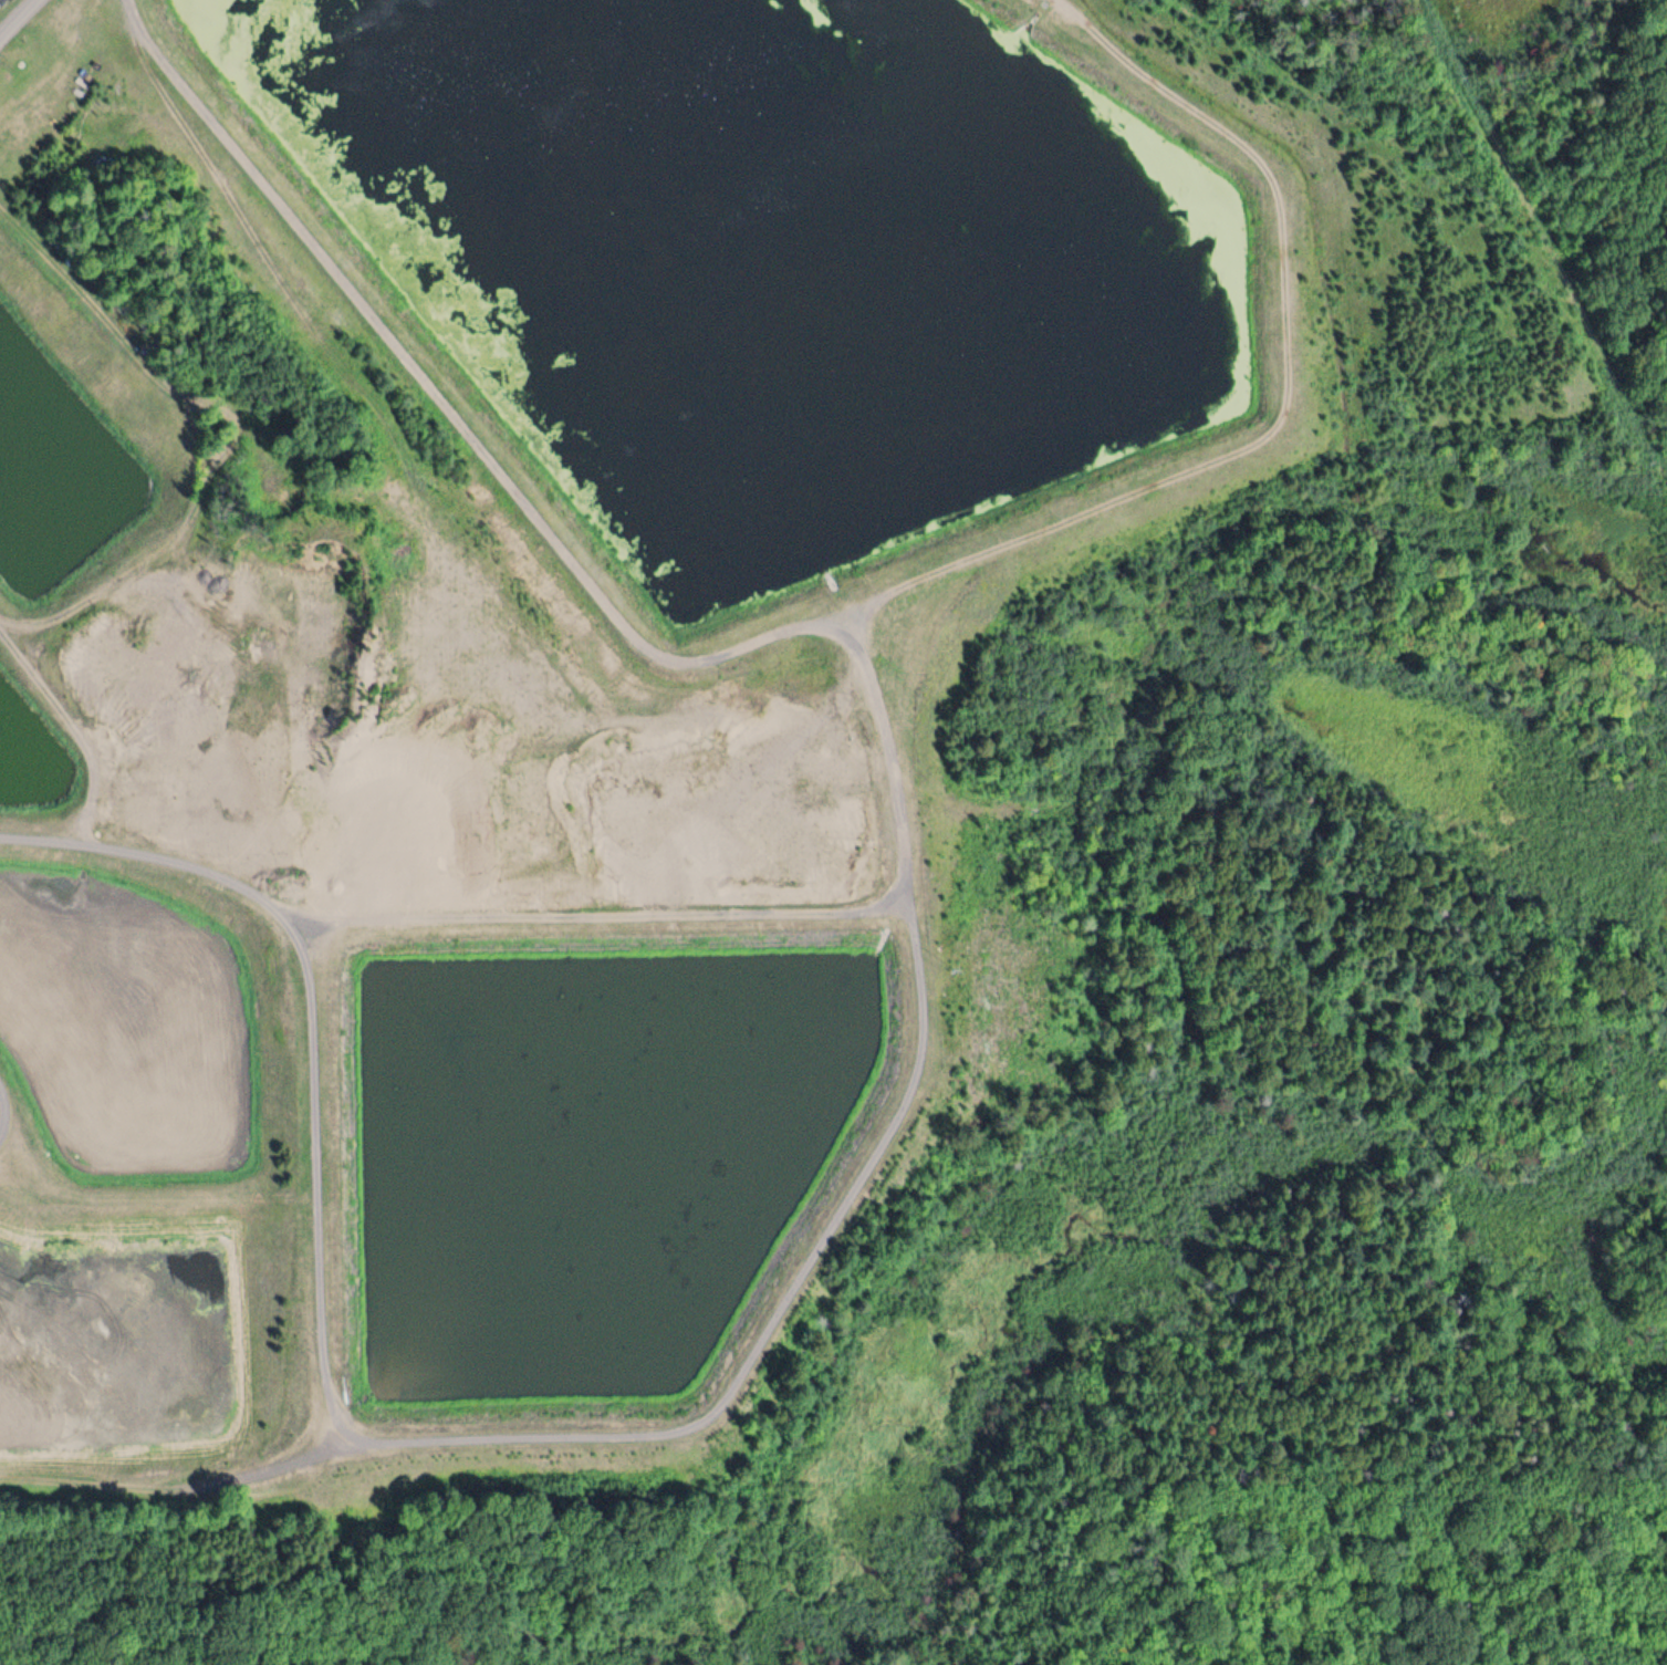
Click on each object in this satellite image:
road: (20, 22)
road: (232, 435)
road: (825, 617)
road: (54, 843)
road: (593, 916)
road: (3, 1103)
road: (155, 1193)
road: (485, 1440)
road: (181, 1484)

